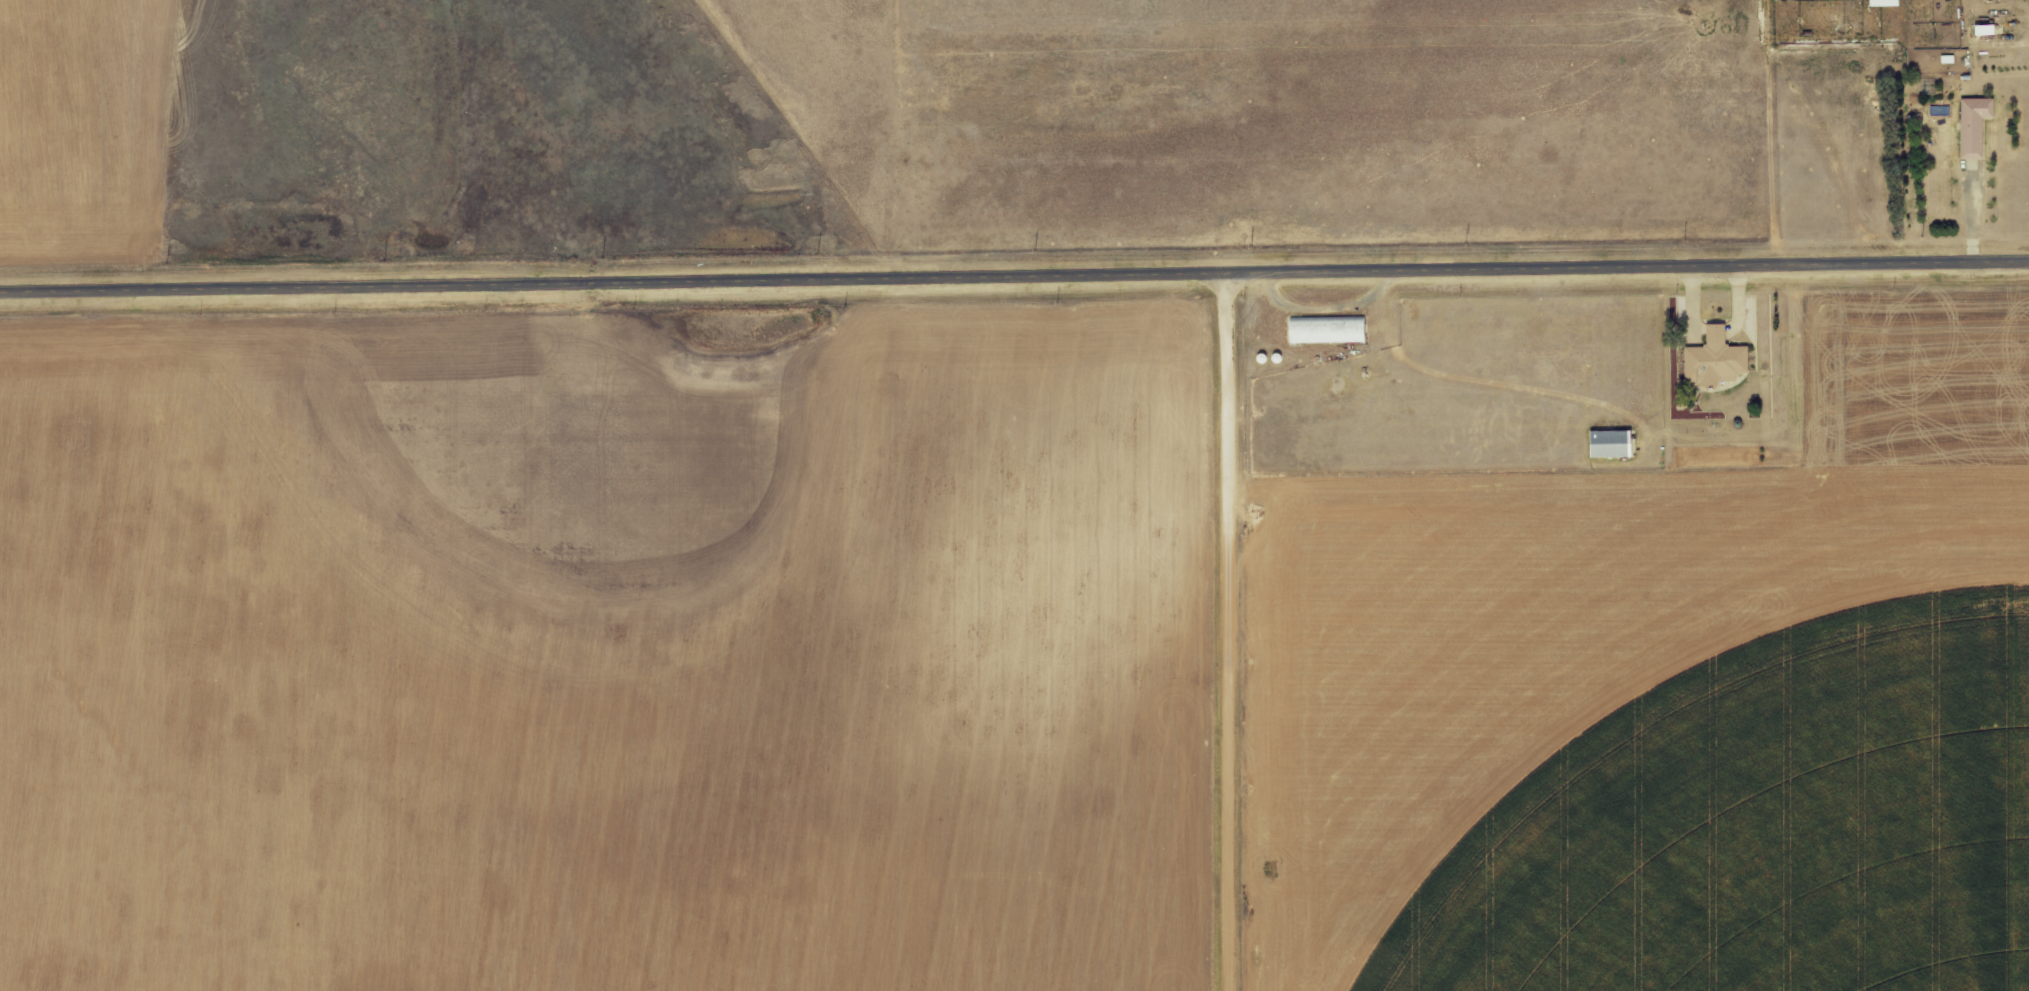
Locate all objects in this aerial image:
building: (1986, 29)
building: (1975, 125)
road: (899, 145)
road: (1014, 286)
building: (1328, 330)
building: (1719, 357)
road: (1228, 636)

